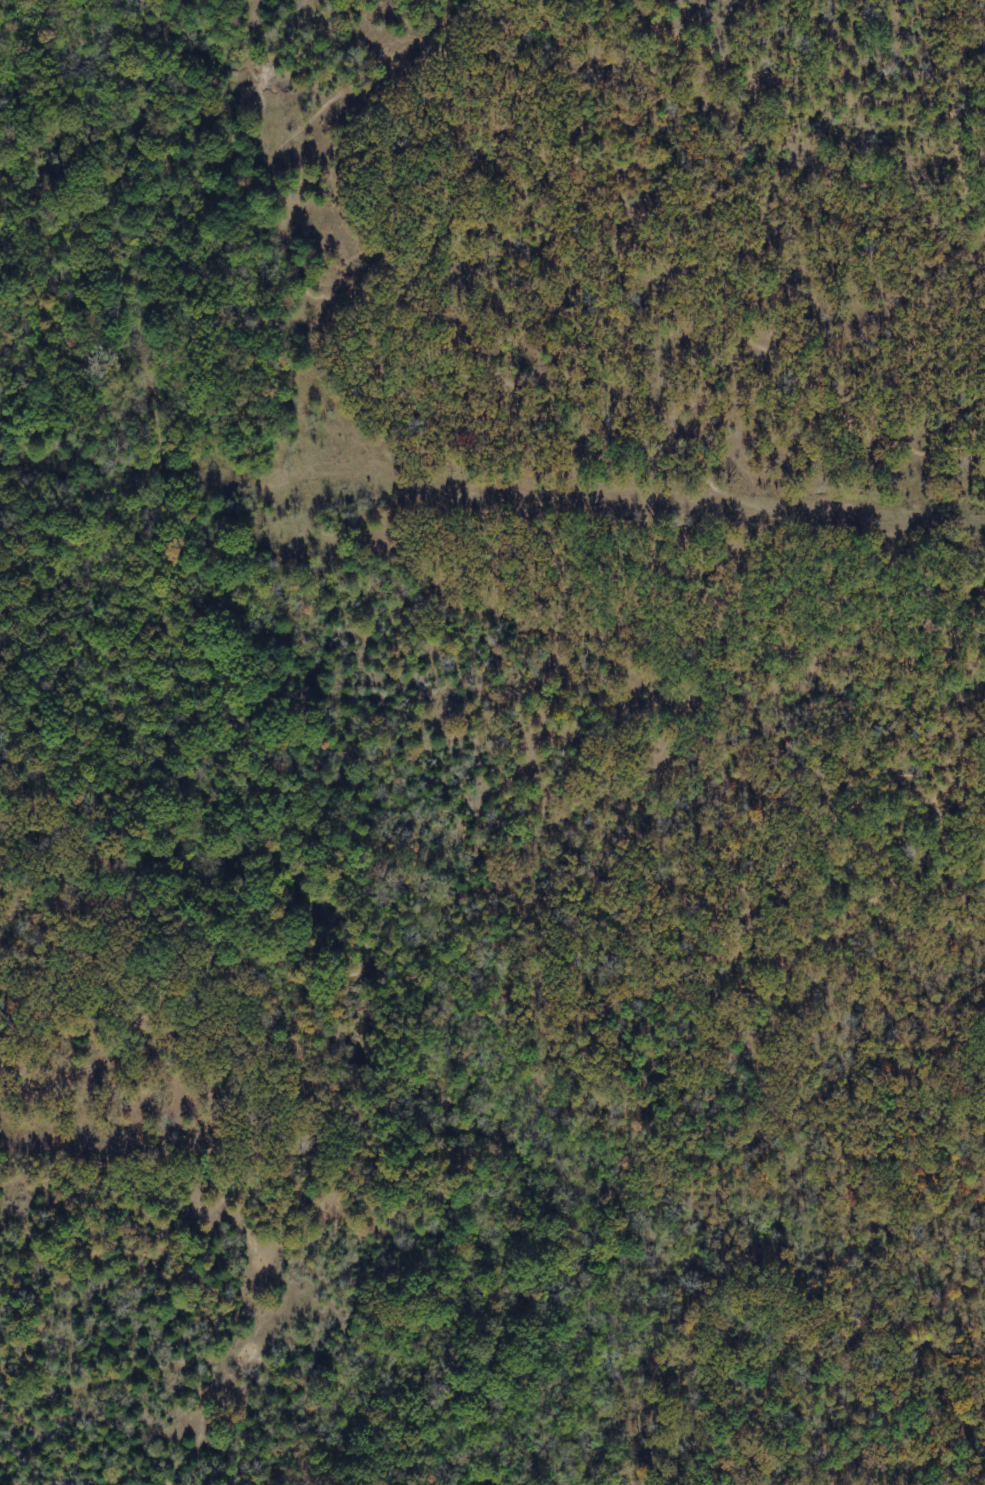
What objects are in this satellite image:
road: (837, 103)
road: (280, 148)
park: (492, 581)
road: (128, 890)
road: (536, 1001)
road: (87, 1067)

